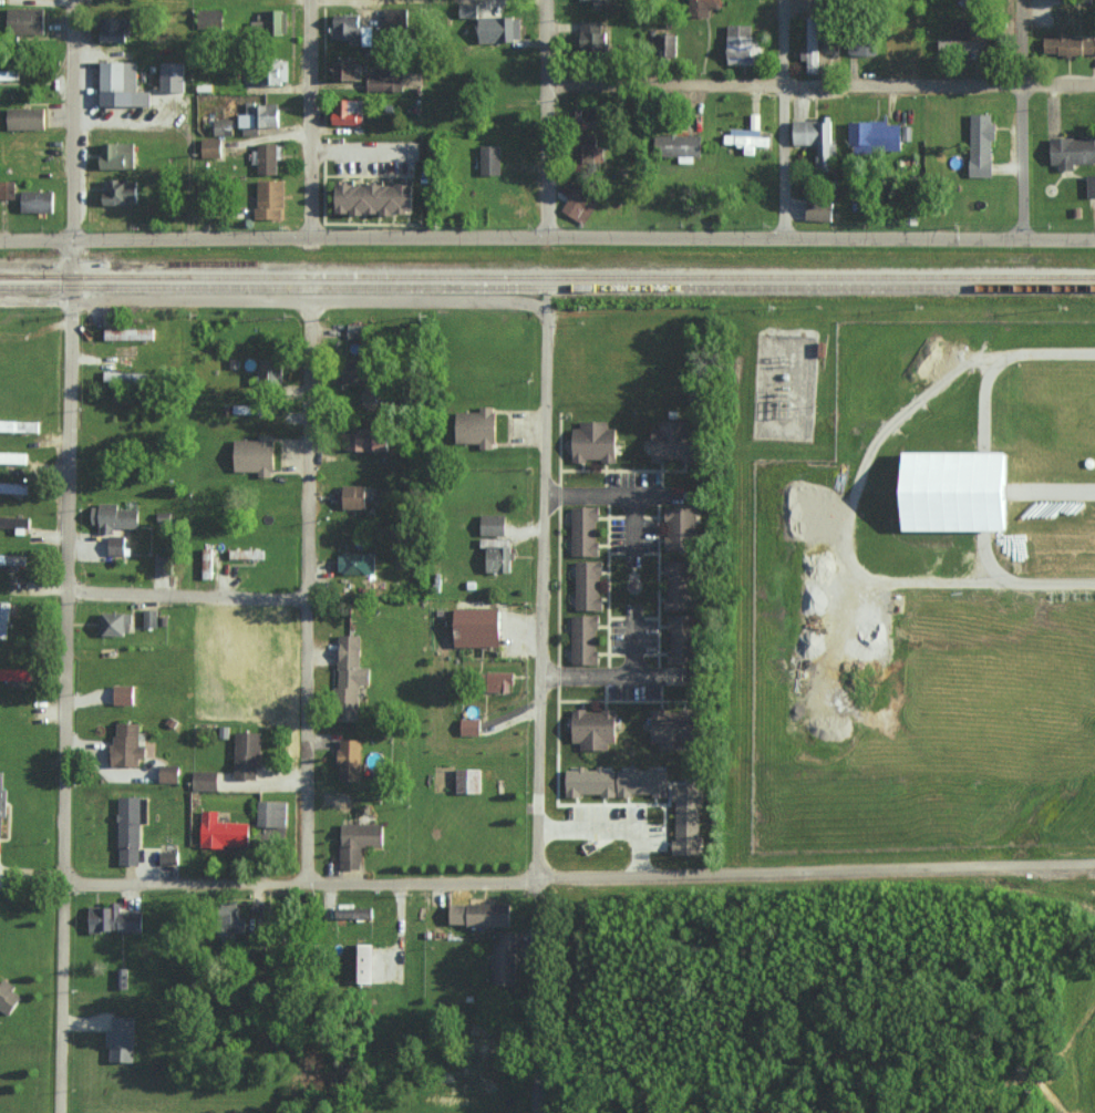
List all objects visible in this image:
building: (583, 0)
road: (405, 1)
building: (971, 2)
building: (704, 7)
building: (468, 10)
building: (396, 17)
building: (210, 19)
building: (27, 20)
building: (268, 22)
building: (965, 25)
building: (347, 28)
building: (500, 28)
building: (115, 29)
building: (595, 37)
building: (812, 43)
building: (743, 44)
building: (862, 44)
building: (1070, 44)
building: (349, 68)
building: (9, 73)
building: (174, 76)
building: (386, 81)
building: (122, 84)
road: (820, 86)
building: (349, 112)
building: (260, 116)
building: (28, 117)
road: (310, 117)
road: (782, 117)
road: (1020, 118)
building: (220, 126)
building: (748, 135)
building: (876, 136)
building: (816, 140)
building: (982, 144)
building: (681, 145)
building: (213, 147)
building: (1073, 151)
building: (595, 152)
building: (118, 154)
building: (267, 157)
building: (492, 158)
building: (1091, 185)
building: (122, 192)
building: (379, 198)
building: (270, 199)
building: (38, 200)
building: (579, 205)
building: (820, 209)
road: (547, 236)
railway: (10, 277)
railway: (547, 277)
railway: (547, 293)
road: (188, 299)
building: (357, 330)
building: (130, 333)
building: (270, 370)
building: (127, 377)
power substation: (785, 387)
building: (246, 408)
building: (19, 425)
building: (477, 426)
building: (369, 440)
road: (546, 441)
building: (675, 441)
building: (595, 442)
building: (257, 454)
building: (13, 457)
parking lot: (636, 480)
building: (13, 487)
building: (958, 492)
road: (611, 494)
building: (357, 496)
building: (117, 517)
building: (14, 521)
building: (494, 524)
road: (631, 527)
building: (680, 528)
building: (586, 530)
parking lot: (634, 538)
building: (116, 545)
building: (498, 555)
road: (66, 556)
building: (13, 559)
building: (358, 563)
building: (164, 565)
building: (589, 585)
building: (679, 585)
road: (301, 591)
road: (184, 599)
building: (4, 618)
building: (151, 618)
building: (115, 624)
building: (479, 627)
parking lot: (634, 632)
building: (585, 639)
building: (683, 639)
road: (633, 641)
building: (17, 673)
road: (600, 673)
building: (351, 677)
building: (499, 681)
parking lot: (634, 692)
building: (124, 694)
building: (471, 726)
building: (595, 728)
building: (673, 728)
building: (127, 744)
building: (247, 754)
building: (351, 760)
building: (169, 773)
building: (205, 780)
building: (469, 781)
building: (617, 781)
building: (2, 803)
building: (688, 817)
building: (271, 818)
building: (130, 829)
building: (224, 831)
building: (359, 843)
building: (169, 857)
road: (580, 879)
building: (354, 911)
building: (481, 914)
building: (234, 918)
building: (114, 919)
building: (507, 958)
building: (361, 963)
building: (122, 978)
building: (9, 997)
road: (540, 997)
building: (122, 1038)

